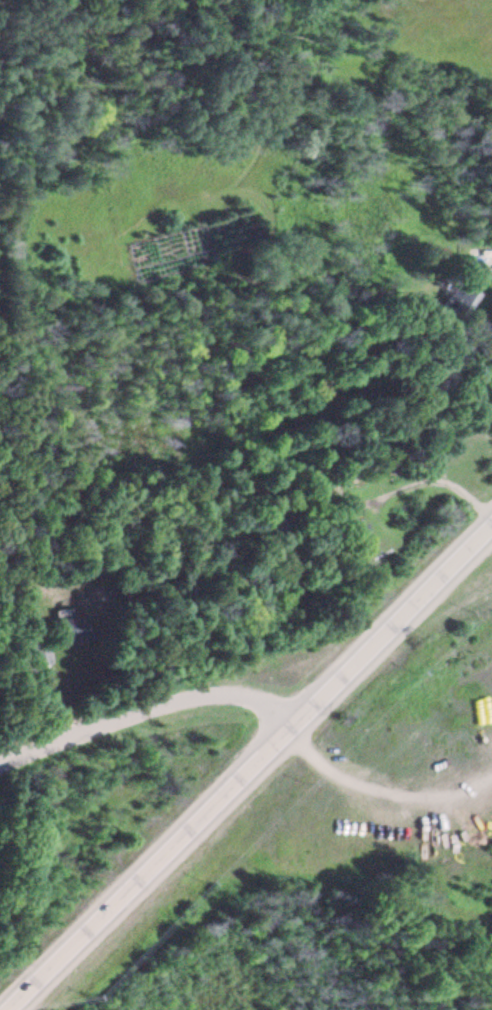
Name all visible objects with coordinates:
road: (490, 260)
building: (459, 302)
building: (435, 426)
road: (408, 487)
building: (263, 520)
building: (356, 535)
building: (64, 633)
building: (35, 655)
road: (144, 711)
road: (248, 766)

